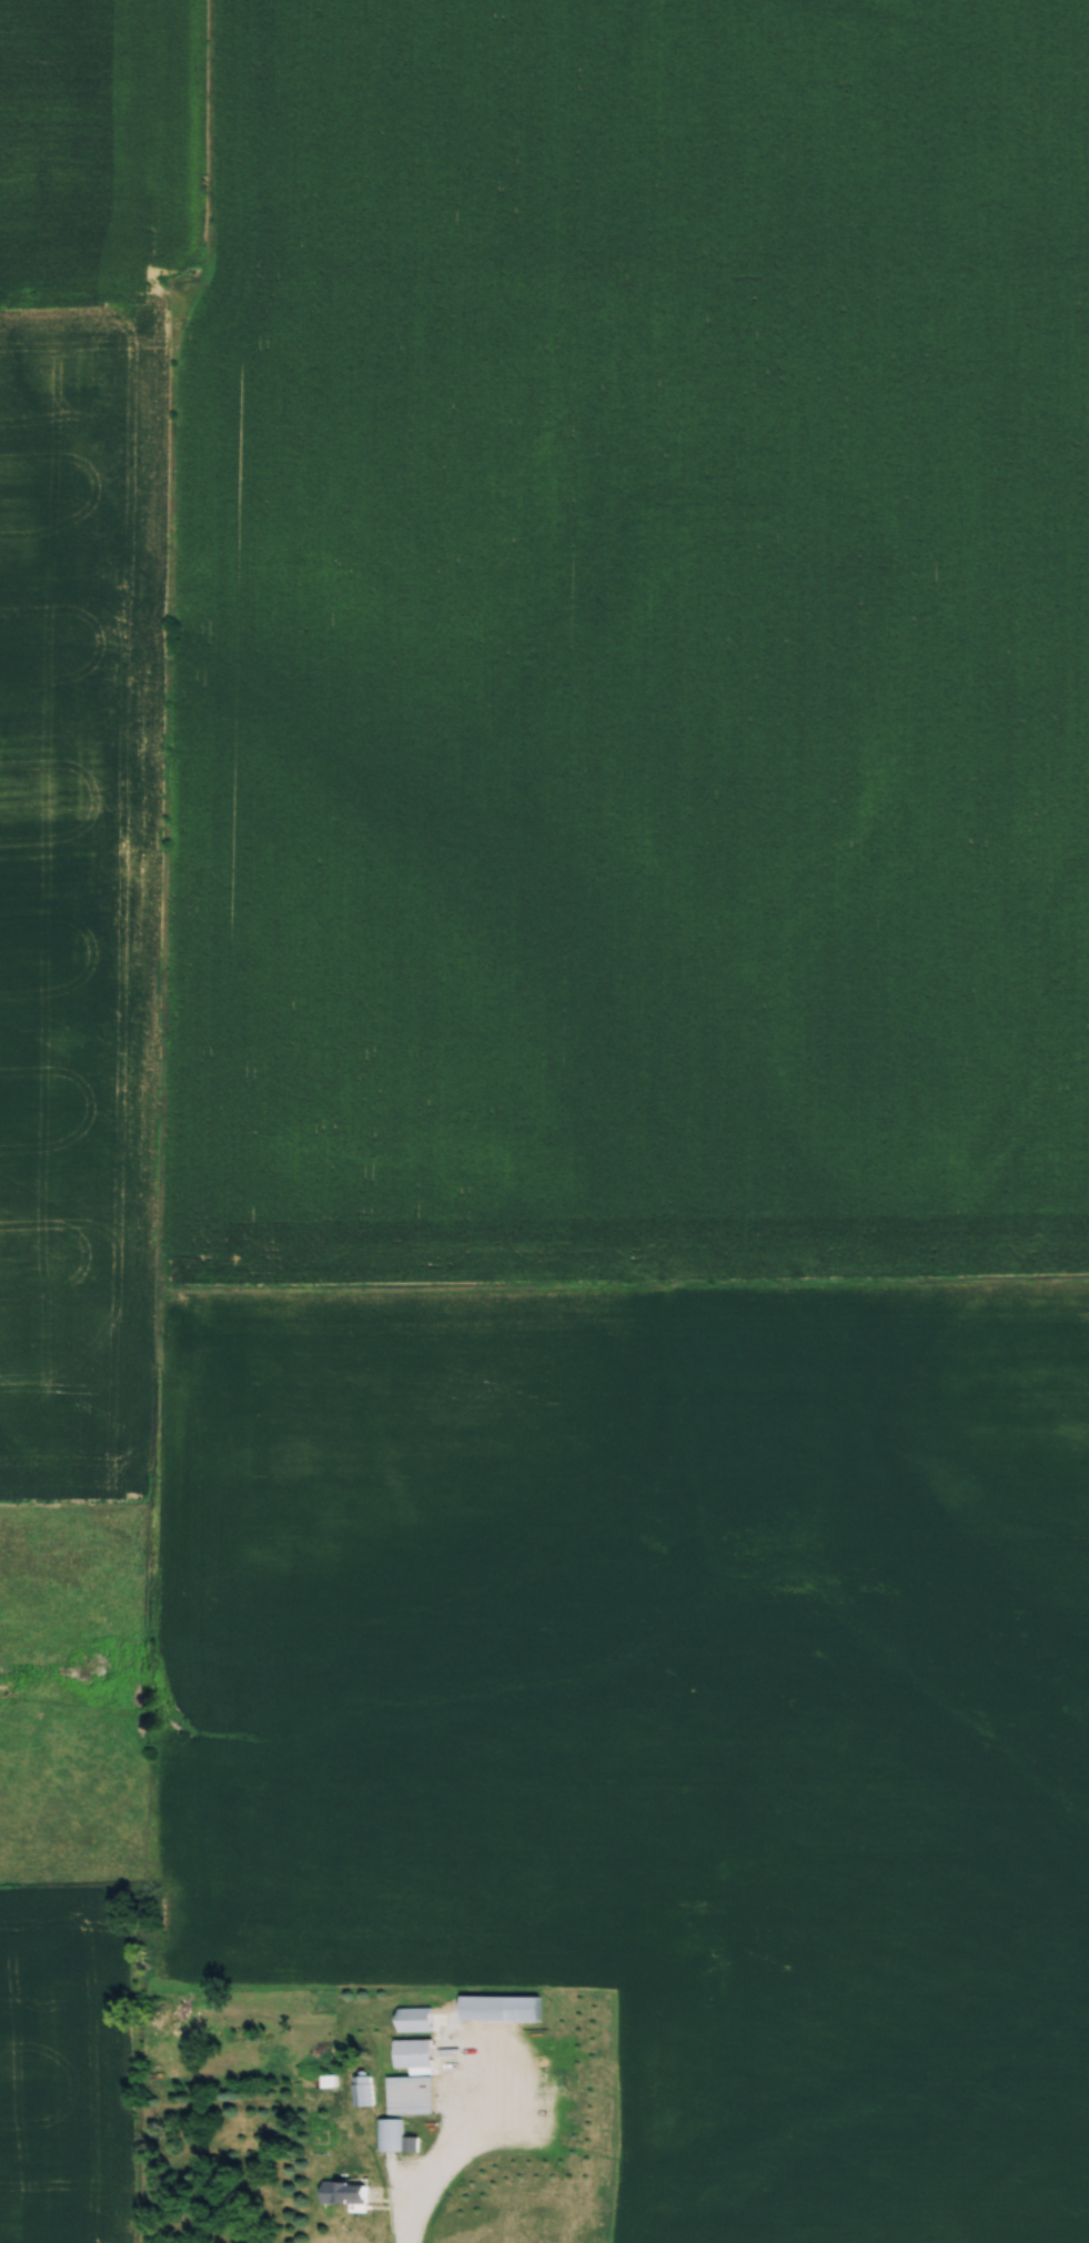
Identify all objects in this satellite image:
building: (501, 2005)
building: (415, 2018)
building: (413, 2051)
building: (411, 2093)
building: (389, 2133)
building: (344, 2190)
road: (404, 2217)

